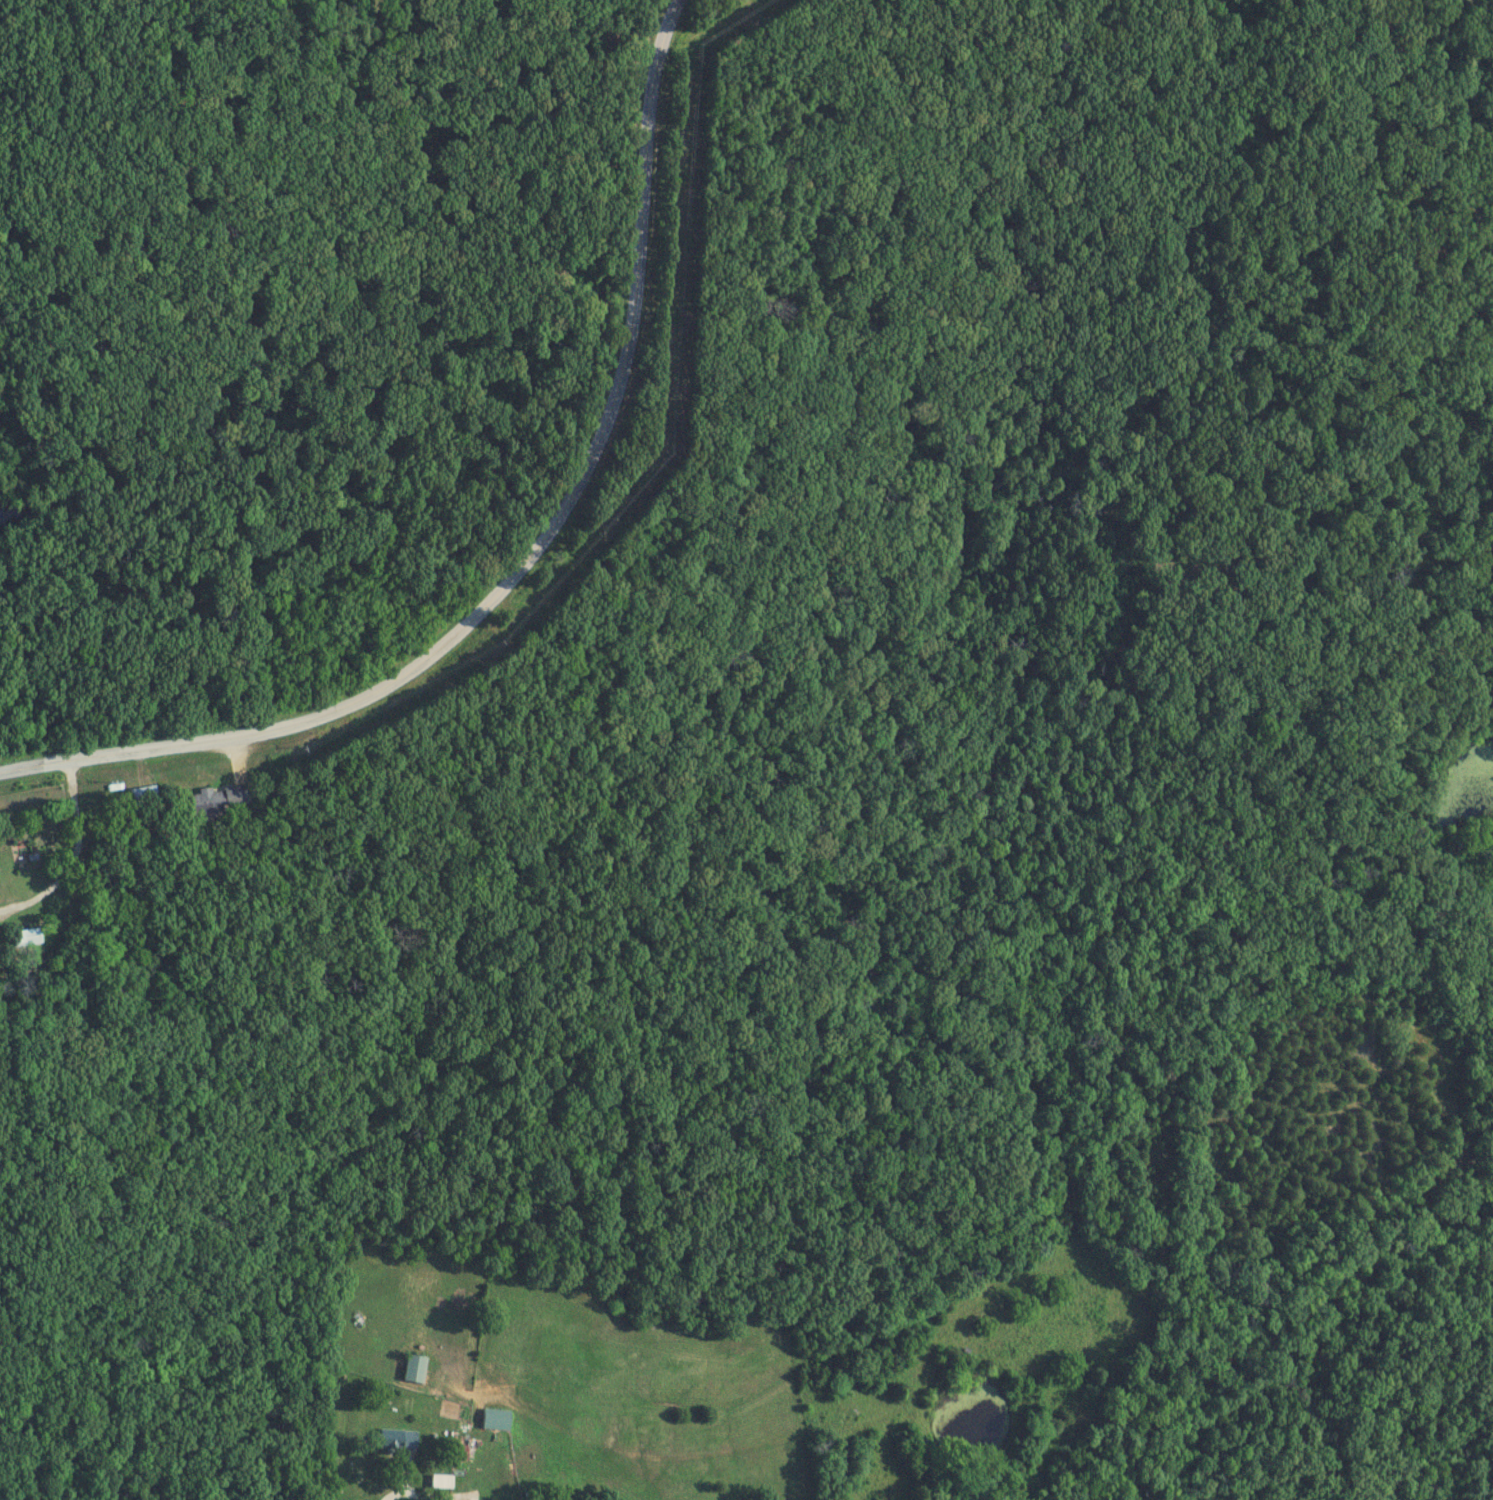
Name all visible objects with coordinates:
road: (525, 556)
building: (222, 800)
road: (75, 854)
building: (29, 939)
building: (417, 1369)
building: (498, 1420)
building: (399, 1441)
road: (401, 1482)

